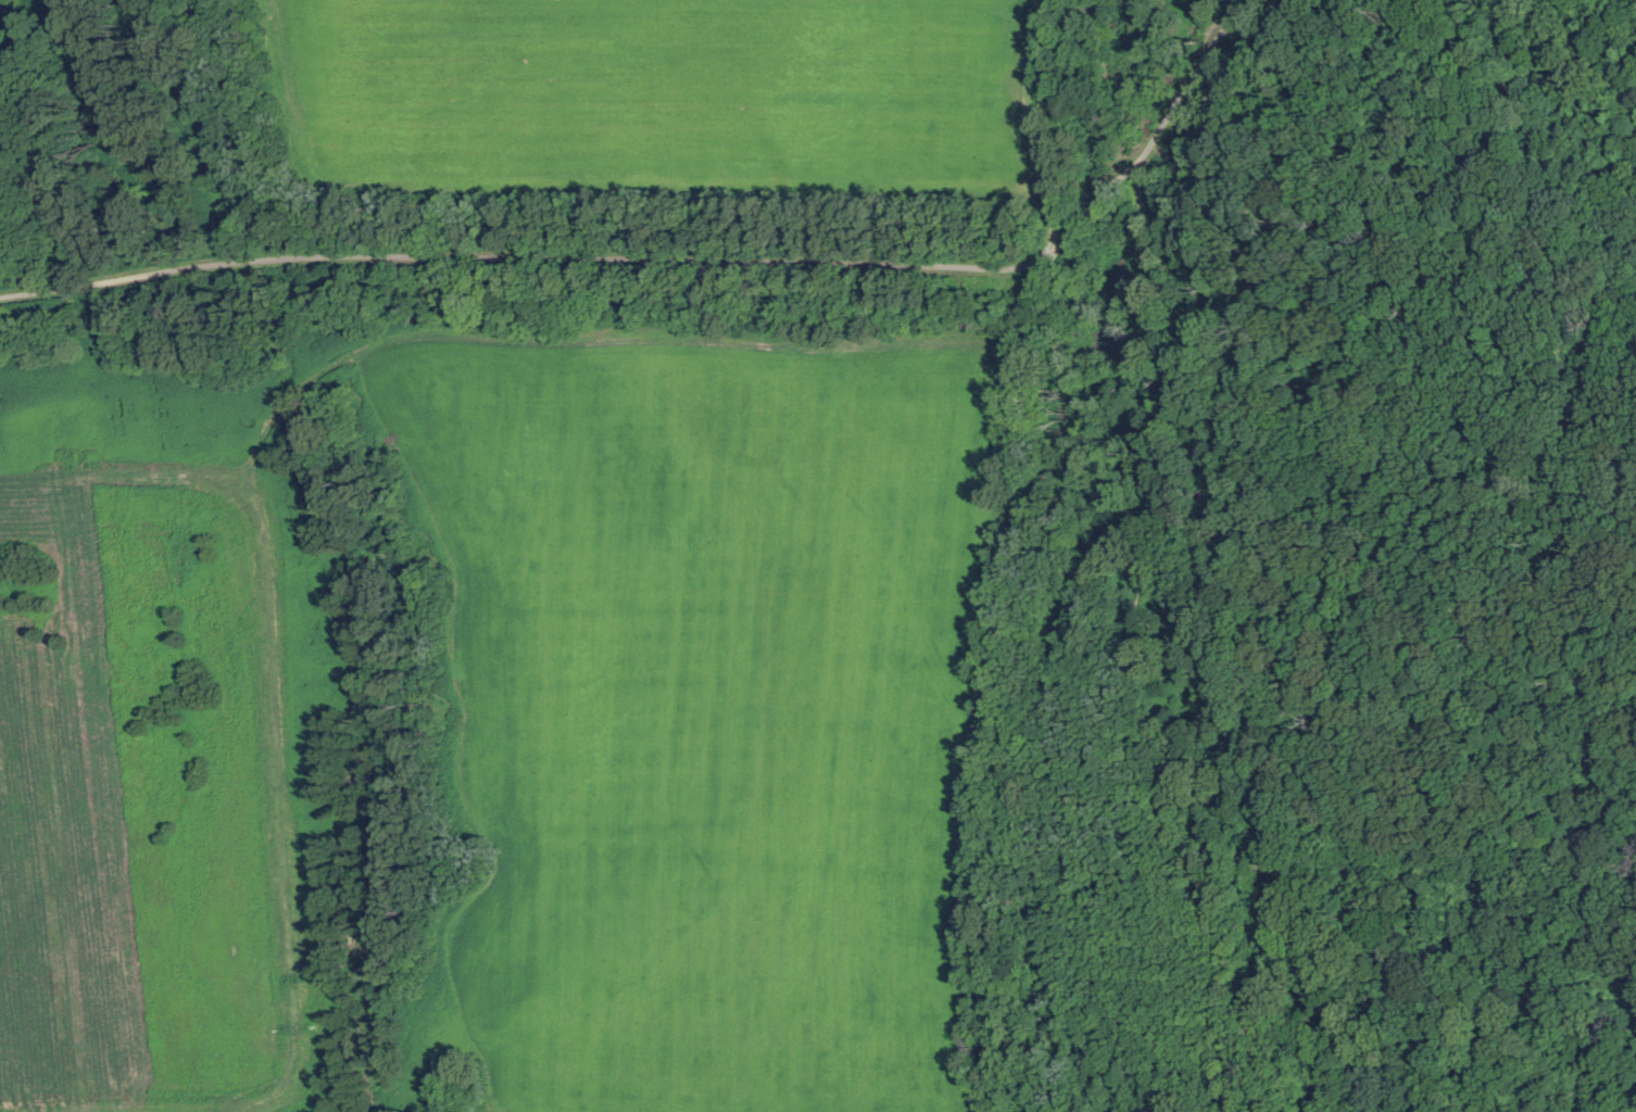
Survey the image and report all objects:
road: (683, 258)

